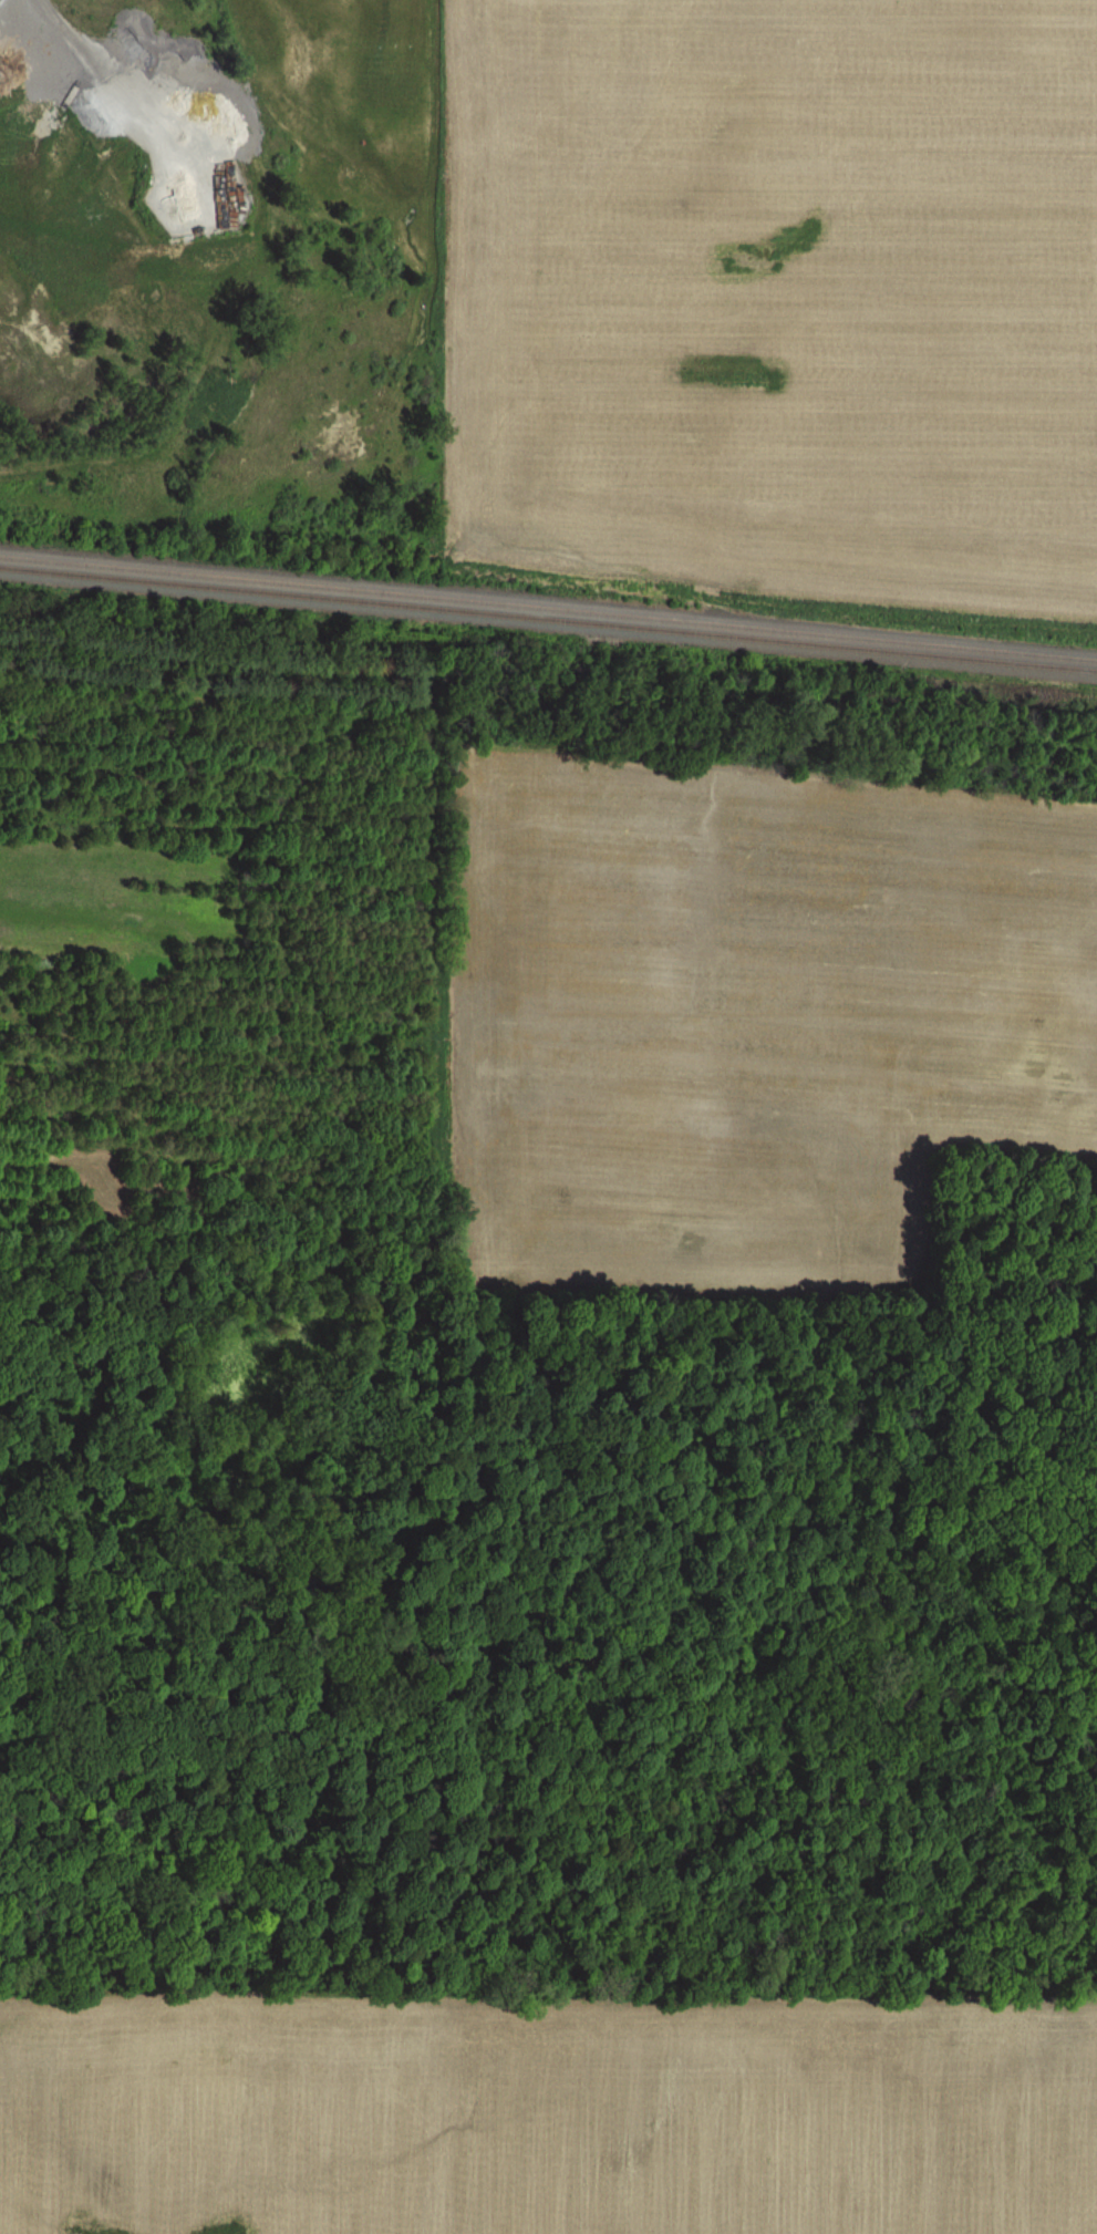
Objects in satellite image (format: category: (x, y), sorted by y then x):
railway: (548, 608)
railway: (548, 619)

